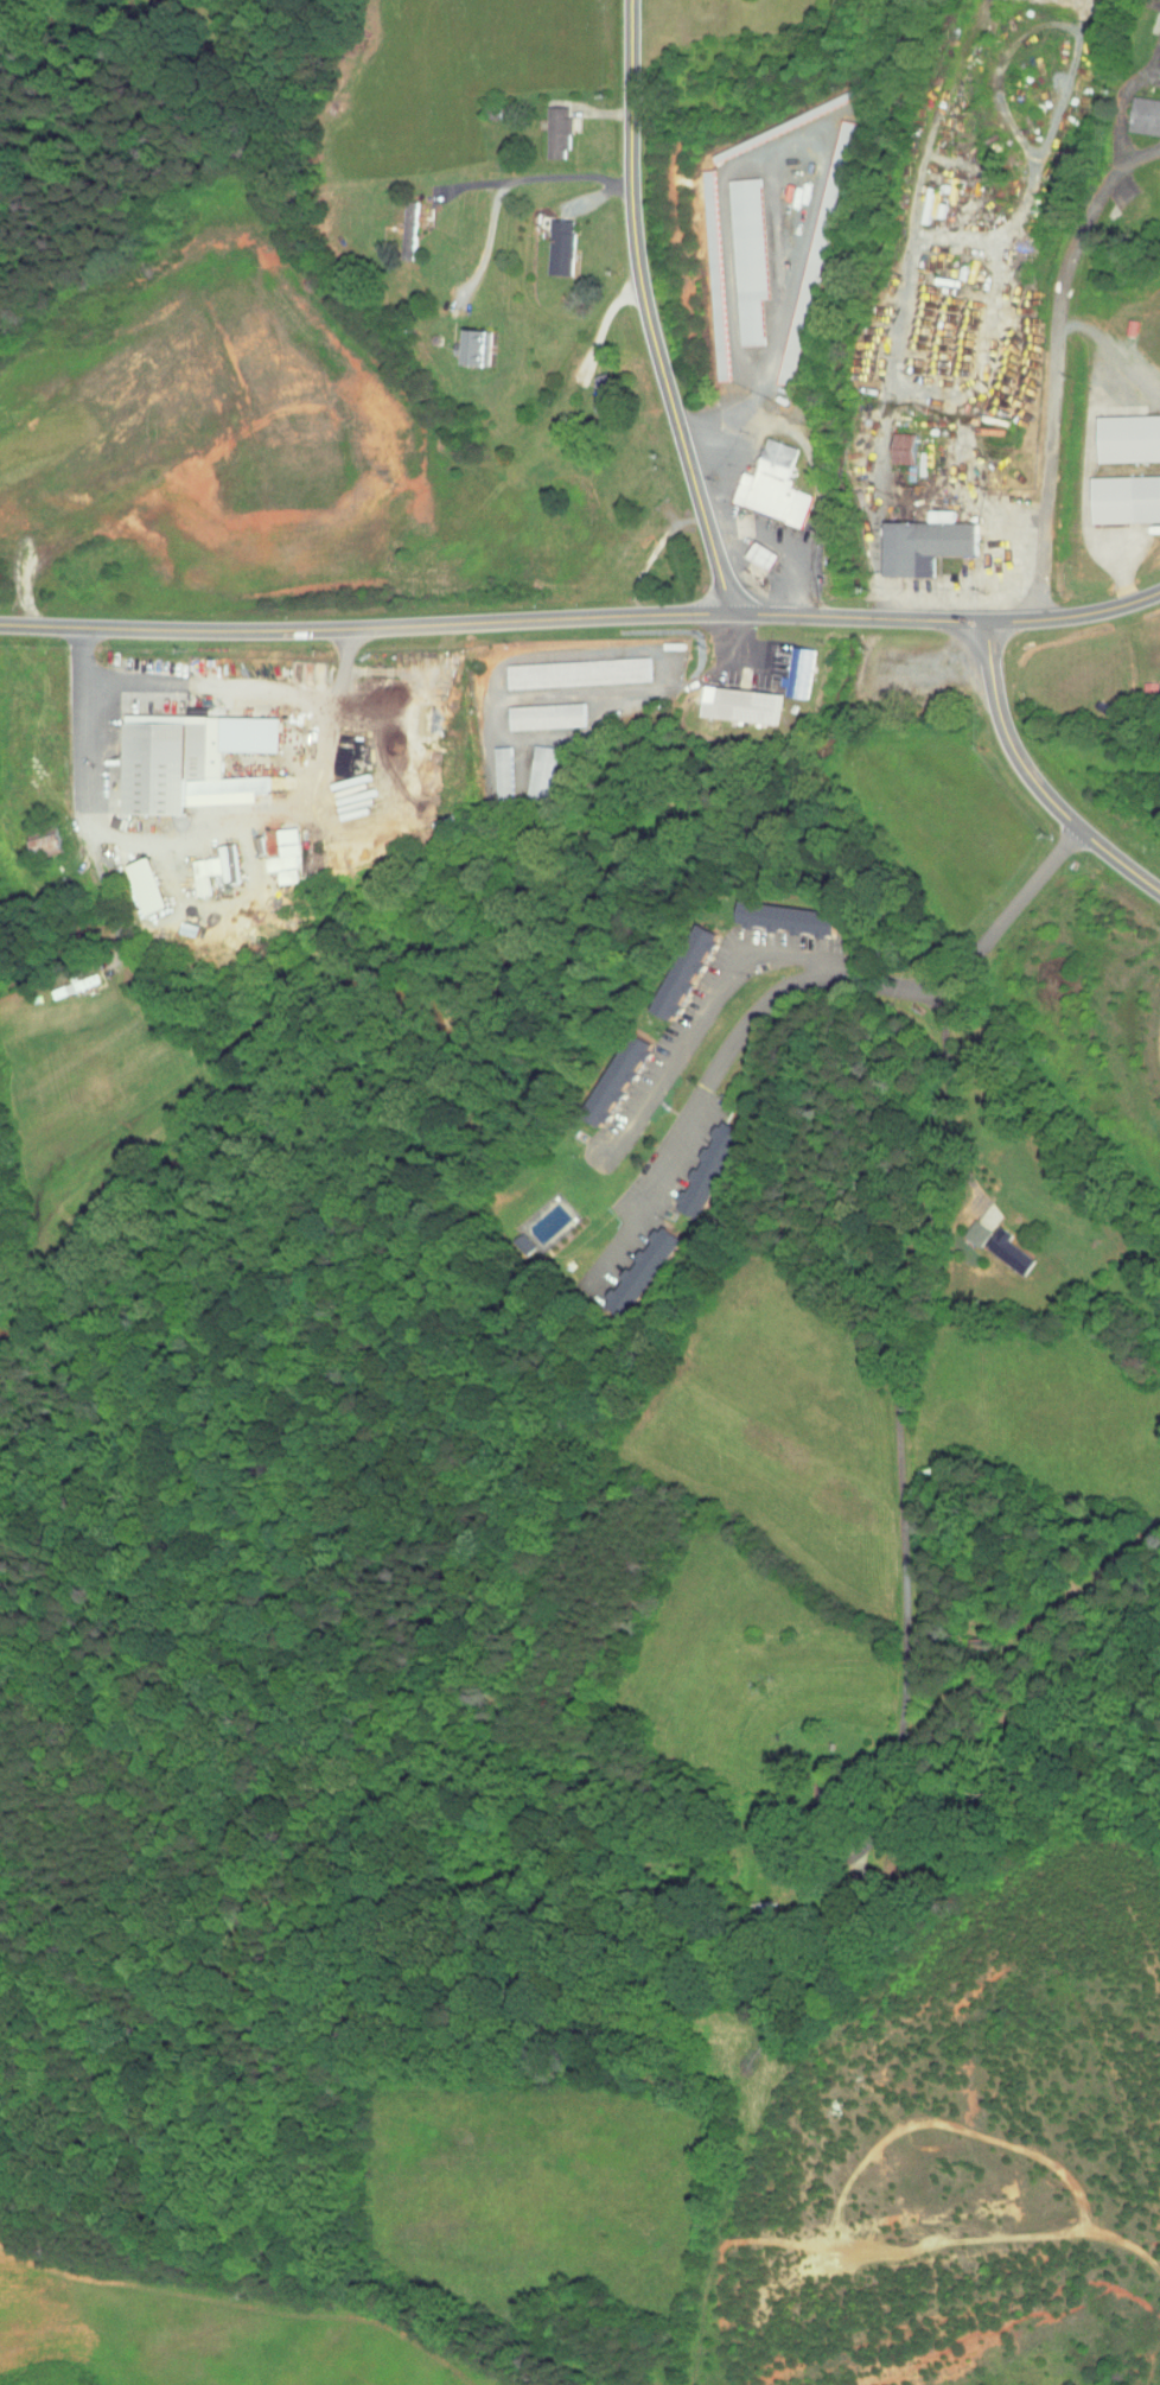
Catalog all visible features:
road: (1118, 100)
building: (1140, 109)
building: (548, 125)
road: (818, 160)
road: (520, 183)
building: (919, 199)
building: (399, 224)
building: (552, 241)
road: (486, 244)
building: (737, 252)
building: (702, 268)
road: (646, 311)
road: (601, 326)
road: (1054, 362)
building: (593, 388)
building: (1124, 432)
building: (899, 444)
building: (764, 478)
building: (1121, 492)
building: (918, 536)
road: (780, 542)
road: (581, 618)
building: (568, 664)
building: (790, 664)
road: (209, 685)
building: (732, 697)
building: (536, 708)
building: (183, 753)
building: (529, 765)
building: (491, 767)
road: (1030, 778)
building: (351, 789)
road: (185, 832)
building: (42, 835)
building: (278, 850)
building: (206, 861)
building: (140, 878)
building: (782, 910)
road: (1012, 912)
building: (678, 963)
road: (703, 1012)
road: (715, 1045)
building: (611, 1069)
road: (745, 1125)
building: (702, 1162)
building: (967, 1226)
building: (998, 1245)
building: (630, 1263)
road: (1079, 1324)
road: (903, 1363)
road: (885, 1810)

